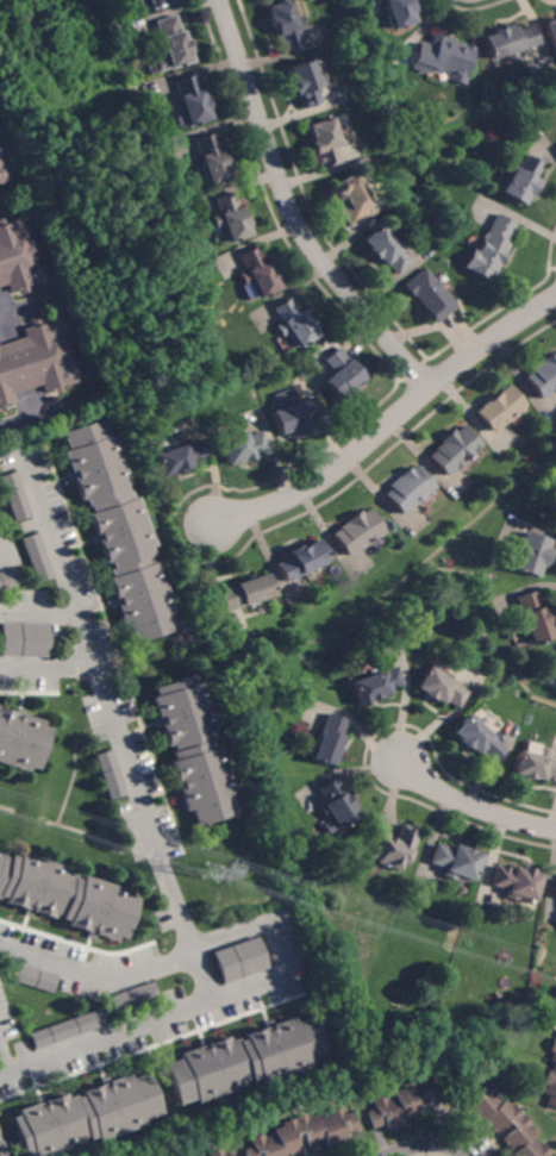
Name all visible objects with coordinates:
building: (151, 4)
building: (401, 12)
building: (287, 24)
building: (551, 32)
building: (508, 42)
building: (171, 44)
building: (444, 58)
building: (305, 82)
building: (190, 101)
building: (325, 140)
building: (211, 158)
building: (4, 171)
building: (519, 180)
building: (354, 200)
road: (292, 211)
building: (231, 218)
building: (488, 249)
building: (386, 250)
building: (18, 257)
building: (257, 273)
building: (427, 295)
road: (11, 308)
building: (293, 323)
building: (36, 361)
building: (343, 375)
building: (543, 376)
building: (499, 408)
building: (294, 415)
road: (31, 419)
road: (391, 421)
building: (240, 445)
building: (451, 450)
building: (179, 457)
building: (408, 488)
building: (17, 495)
building: (119, 530)
building: (356, 531)
building: (532, 555)
building: (37, 557)
building: (300, 561)
building: (10, 577)
building: (245, 593)
building: (533, 618)
building: (24, 638)
road: (46, 670)
building: (374, 685)
building: (442, 688)
road: (117, 724)
building: (21, 739)
building: (329, 739)
building: (480, 739)
building: (194, 749)
building: (536, 764)
building: (112, 774)
building: (337, 802)
road: (470, 804)
building: (394, 848)
building: (455, 861)
power tower: (212, 870)
building: (518, 882)
building: (555, 887)
building: (67, 895)
building: (240, 960)
road: (96, 969)
building: (33, 977)
building: (136, 996)
road: (151, 1019)
building: (69, 1029)
building: (246, 1060)
road: (4, 1061)
building: (551, 1077)
building: (401, 1104)
building: (88, 1116)
building: (504, 1120)
building: (302, 1133)
road: (431, 1144)
building: (2, 1146)
building: (215, 1152)
building: (185, 1155)
building: (195, 1155)
building: (227, 1155)

